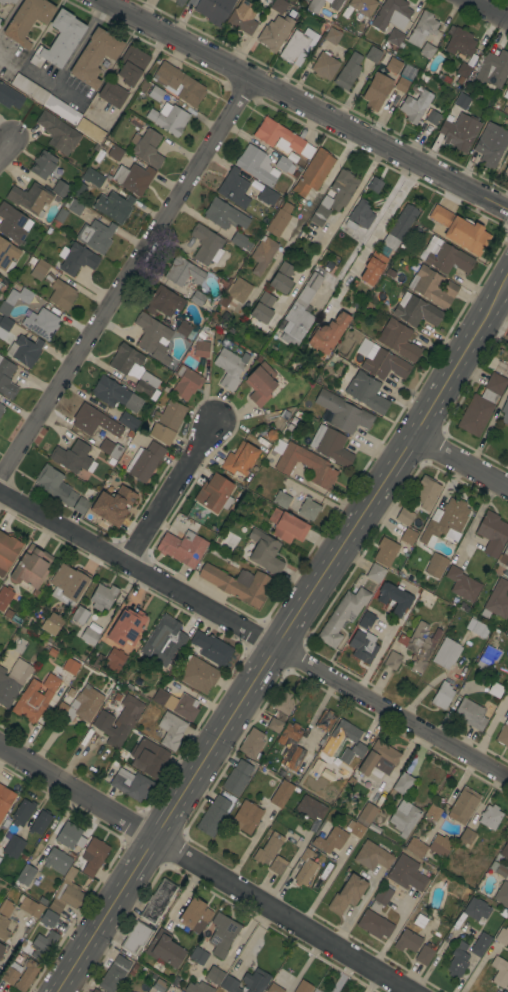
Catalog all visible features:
building: (305, 0)
building: (7, 1)
building: (190, 2)
building: (179, 3)
building: (335, 4)
building: (315, 5)
building: (278, 6)
building: (363, 6)
road: (490, 8)
building: (214, 10)
building: (391, 14)
building: (242, 17)
building: (27, 20)
building: (0, 21)
building: (422, 28)
building: (275, 32)
building: (332, 35)
building: (394, 39)
building: (59, 40)
building: (460, 42)
building: (298, 46)
building: (427, 50)
building: (372, 54)
building: (95, 56)
building: (324, 65)
building: (393, 65)
building: (492, 69)
building: (463, 70)
building: (348, 71)
building: (124, 77)
road: (140, 77)
building: (179, 83)
building: (401, 84)
building: (377, 91)
building: (155, 93)
building: (506, 94)
building: (9, 97)
building: (46, 99)
building: (462, 101)
road: (305, 106)
building: (415, 106)
building: (505, 110)
building: (432, 117)
building: (169, 118)
building: (90, 132)
building: (460, 132)
building: (58, 133)
building: (281, 138)
building: (490, 144)
road: (6, 146)
building: (146, 148)
building: (115, 152)
building: (286, 163)
building: (43, 165)
building: (257, 165)
building: (506, 171)
building: (313, 172)
building: (92, 177)
building: (133, 178)
building: (374, 184)
building: (60, 188)
building: (234, 188)
building: (79, 190)
building: (267, 196)
building: (335, 196)
building: (30, 198)
building: (74, 206)
building: (113, 206)
building: (361, 214)
building: (224, 215)
road: (304, 215)
building: (59, 218)
building: (279, 220)
building: (13, 223)
road: (332, 227)
building: (400, 227)
building: (461, 230)
road: (369, 234)
building: (96, 236)
building: (240, 241)
building: (206, 245)
building: (262, 254)
building: (7, 255)
building: (446, 256)
building: (76, 259)
building: (372, 267)
building: (39, 269)
building: (183, 272)
building: (389, 273)
road: (507, 276)
building: (281, 278)
road: (125, 281)
building: (432, 287)
building: (238, 289)
building: (61, 295)
building: (18, 296)
building: (197, 298)
building: (164, 302)
building: (3, 308)
building: (262, 308)
building: (416, 311)
building: (300, 312)
building: (41, 323)
building: (4, 326)
building: (185, 330)
building: (328, 333)
building: (506, 335)
building: (153, 338)
building: (398, 339)
building: (201, 343)
building: (24, 350)
building: (380, 361)
building: (230, 367)
building: (135, 371)
building: (6, 379)
building: (186, 382)
building: (260, 384)
building: (366, 392)
building: (115, 394)
building: (481, 405)
building: (1, 409)
building: (505, 411)
building: (343, 412)
building: (94, 421)
building: (128, 421)
building: (166, 422)
building: (129, 433)
building: (124, 440)
building: (331, 445)
building: (105, 446)
building: (115, 450)
building: (73, 457)
building: (239, 460)
building: (144, 461)
road: (459, 461)
building: (306, 465)
building: (54, 485)
road: (170, 491)
building: (426, 492)
building: (214, 493)
building: (281, 499)
building: (80, 505)
building: (113, 505)
building: (308, 508)
building: (404, 515)
building: (445, 522)
building: (287, 526)
building: (492, 533)
building: (408, 536)
building: (182, 547)
building: (8, 550)
building: (385, 551)
building: (265, 552)
building: (504, 557)
building: (435, 565)
building: (31, 568)
building: (375, 572)
building: (462, 583)
building: (68, 584)
building: (238, 584)
building: (5, 596)
building: (102, 597)
building: (394, 598)
building: (497, 600)
building: (8, 613)
building: (79, 615)
building: (342, 615)
building: (365, 620)
building: (51, 624)
building: (477, 627)
building: (126, 628)
road: (254, 633)
road: (280, 634)
building: (89, 636)
building: (163, 639)
building: (419, 645)
building: (363, 646)
building: (211, 648)
building: (446, 653)
building: (487, 658)
building: (114, 659)
building: (392, 660)
building: (70, 666)
building: (198, 674)
building: (12, 681)
building: (495, 689)
building: (442, 695)
building: (35, 698)
building: (283, 702)
building: (177, 704)
building: (80, 705)
building: (470, 714)
building: (119, 720)
building: (325, 721)
building: (274, 725)
building: (170, 730)
building: (503, 734)
building: (251, 743)
building: (348, 743)
building: (290, 746)
building: (343, 749)
building: (148, 758)
building: (378, 760)
building: (237, 777)
building: (402, 783)
building: (131, 784)
building: (281, 794)
building: (5, 800)
building: (464, 805)
building: (311, 811)
building: (22, 812)
building: (433, 812)
building: (214, 814)
building: (366, 814)
building: (246, 816)
building: (490, 816)
building: (404, 817)
building: (40, 822)
building: (355, 828)
building: (69, 836)
building: (466, 837)
building: (330, 840)
building: (13, 846)
building: (429, 846)
building: (267, 849)
building: (504, 851)
building: (93, 856)
building: (372, 856)
building: (58, 860)
building: (276, 866)
building: (305, 867)
road: (205, 869)
building: (498, 869)
building: (406, 874)
building: (26, 875)
building: (66, 894)
building: (347, 894)
building: (502, 894)
building: (380, 898)
building: (158, 901)
building: (29, 906)
building: (5, 907)
building: (477, 910)
building: (503, 912)
building: (194, 915)
building: (48, 918)
building: (419, 921)
building: (374, 924)
building: (3, 927)
building: (222, 934)
building: (502, 935)
building: (135, 937)
building: (407, 941)
building: (480, 944)
building: (43, 945)
building: (1, 948)
building: (165, 949)
building: (198, 955)
building: (424, 955)
building: (457, 961)
road: (304, 965)
building: (499, 971)
building: (10, 973)
building: (114, 974)
building: (26, 975)
building: (206, 981)
building: (255, 981)
building: (229, 984)
building: (157, 986)
building: (303, 986)
building: (274, 988)
building: (95, 990)
building: (123, 991)

